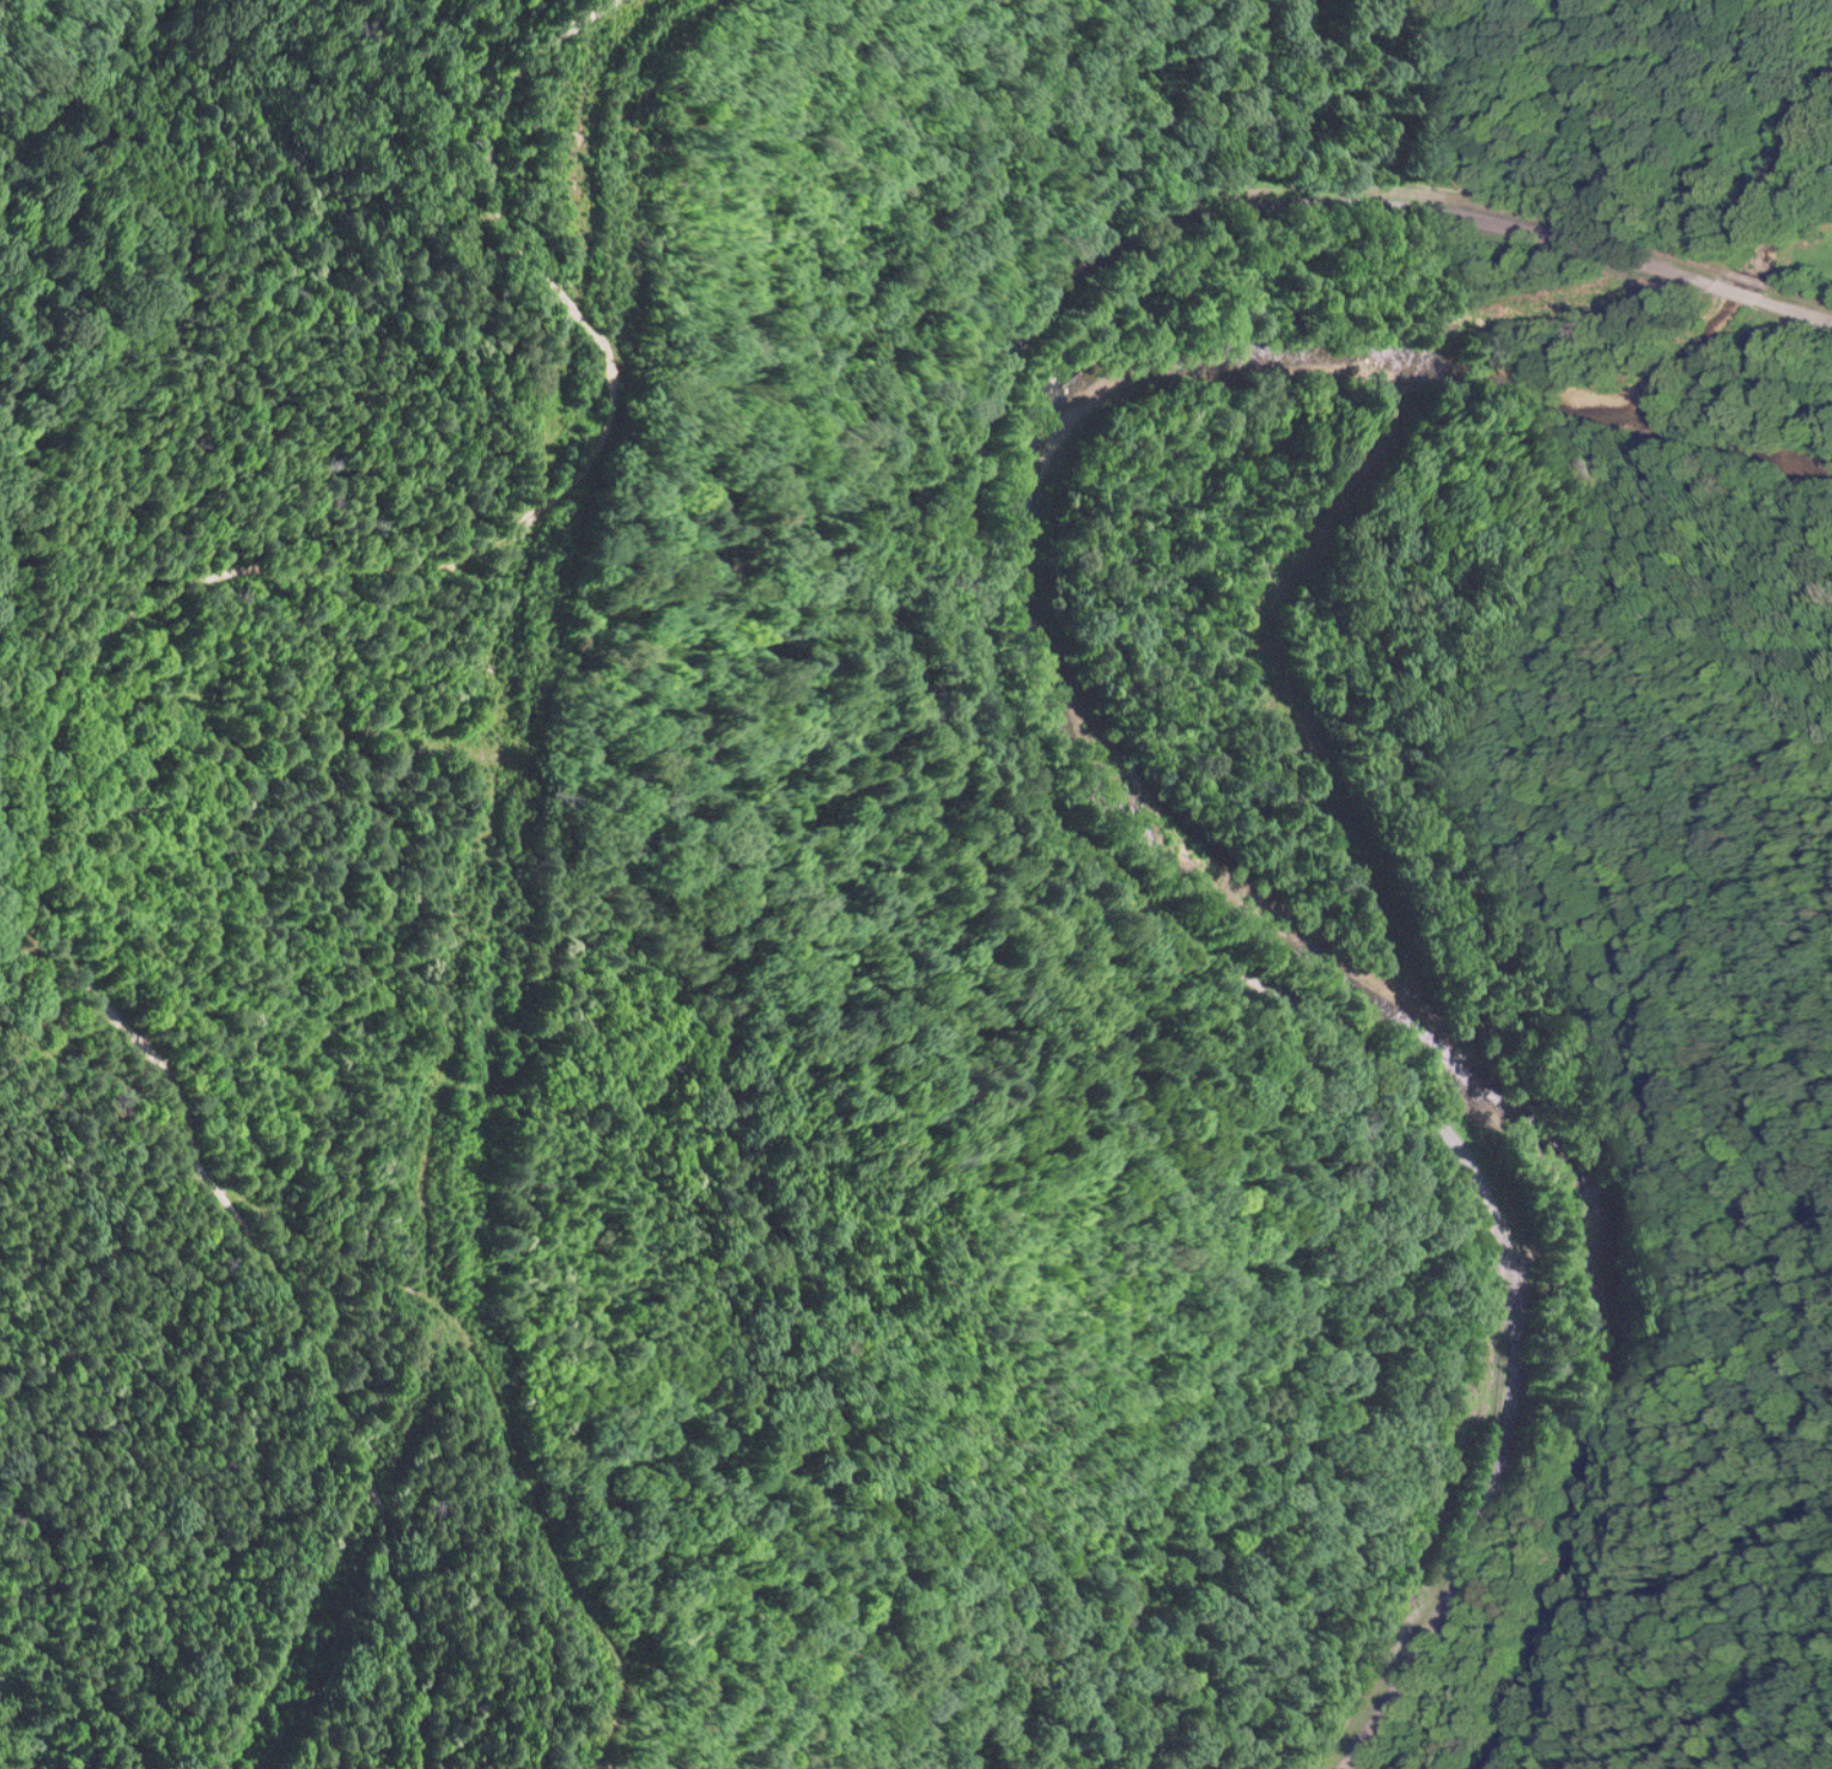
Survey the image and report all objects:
road: (1079, 755)

